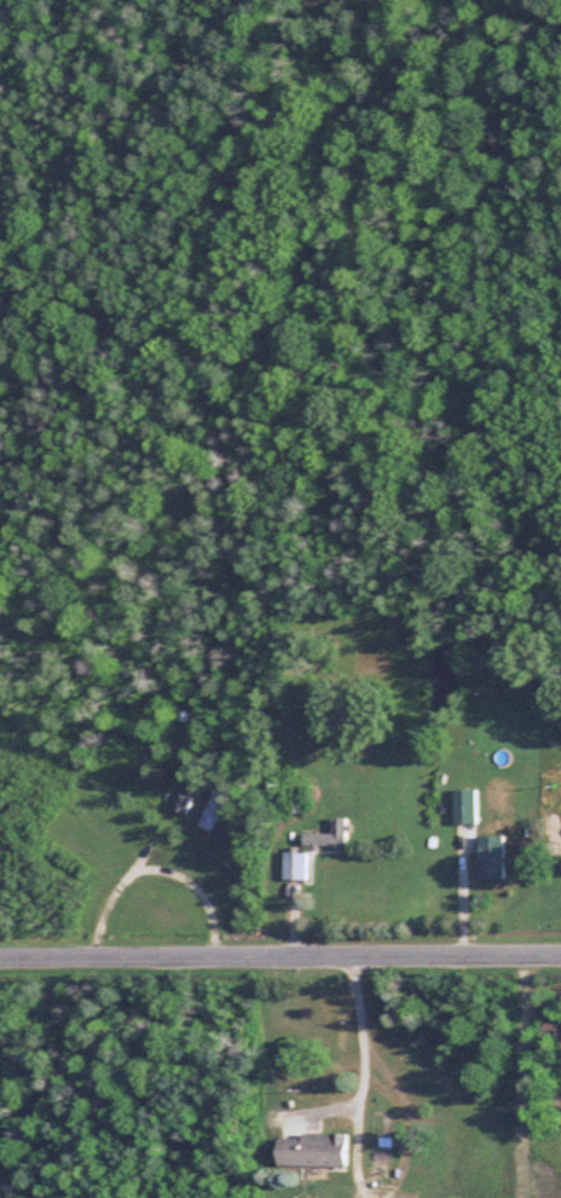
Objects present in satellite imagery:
building: (179, 804)
building: (464, 806)
building: (210, 810)
building: (328, 834)
building: (488, 857)
road: (151, 864)
building: (294, 864)
road: (280, 955)
road: (365, 1062)
building: (375, 1148)
building: (308, 1150)

